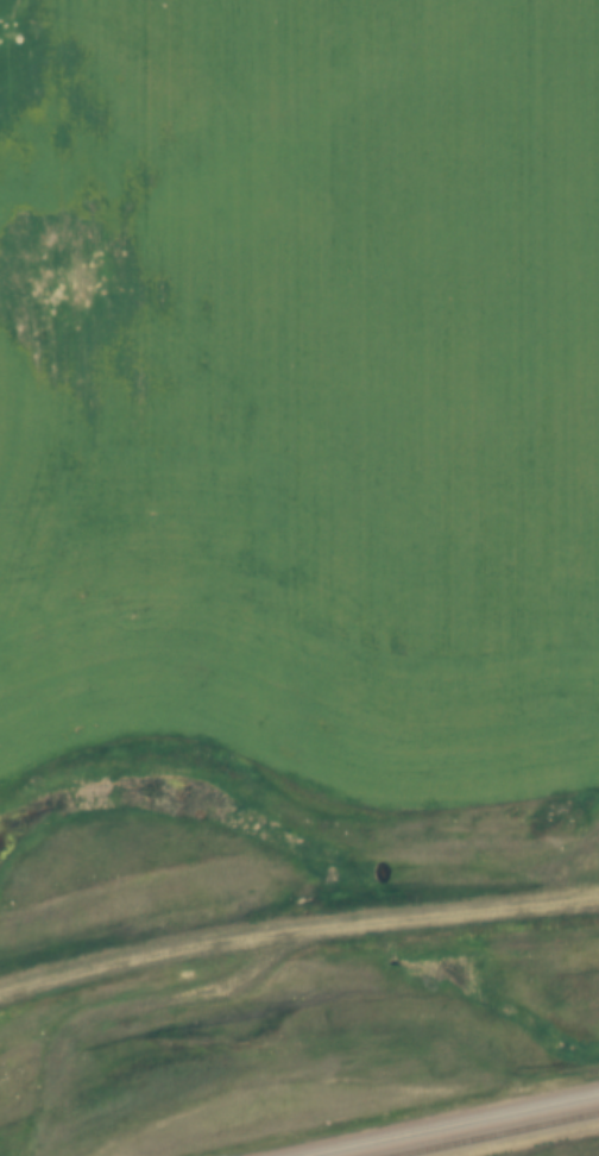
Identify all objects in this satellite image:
railway: (443, 1123)
railway: (491, 1133)

